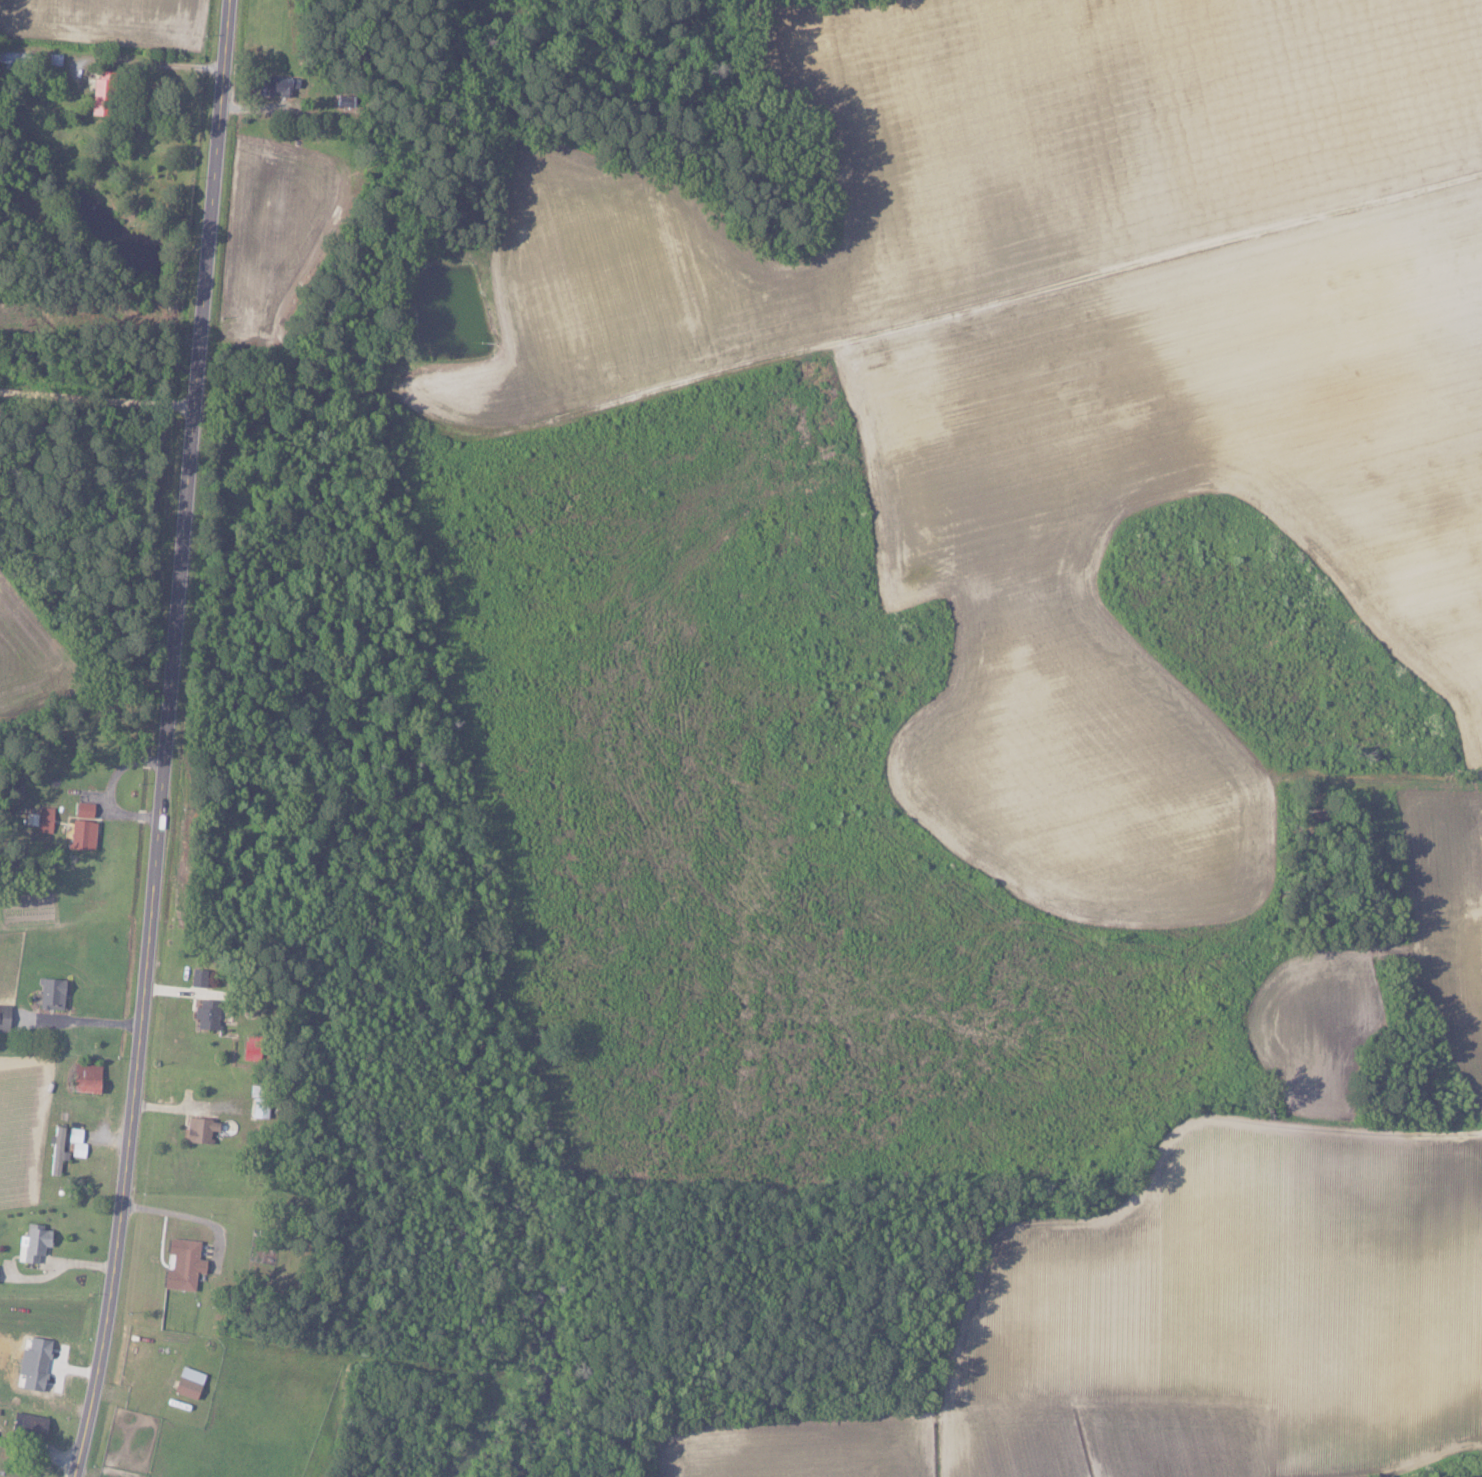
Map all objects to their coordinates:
road: (148, 62)
building: (271, 84)
road: (100, 401)
road: (169, 740)
building: (81, 808)
building: (39, 819)
building: (80, 834)
building: (48, 993)
building: (203, 1018)
road: (92, 1021)
building: (82, 1077)
building: (197, 1130)
building: (75, 1142)
building: (56, 1144)
road: (186, 1216)
building: (31, 1243)
building: (180, 1264)
building: (183, 1387)

